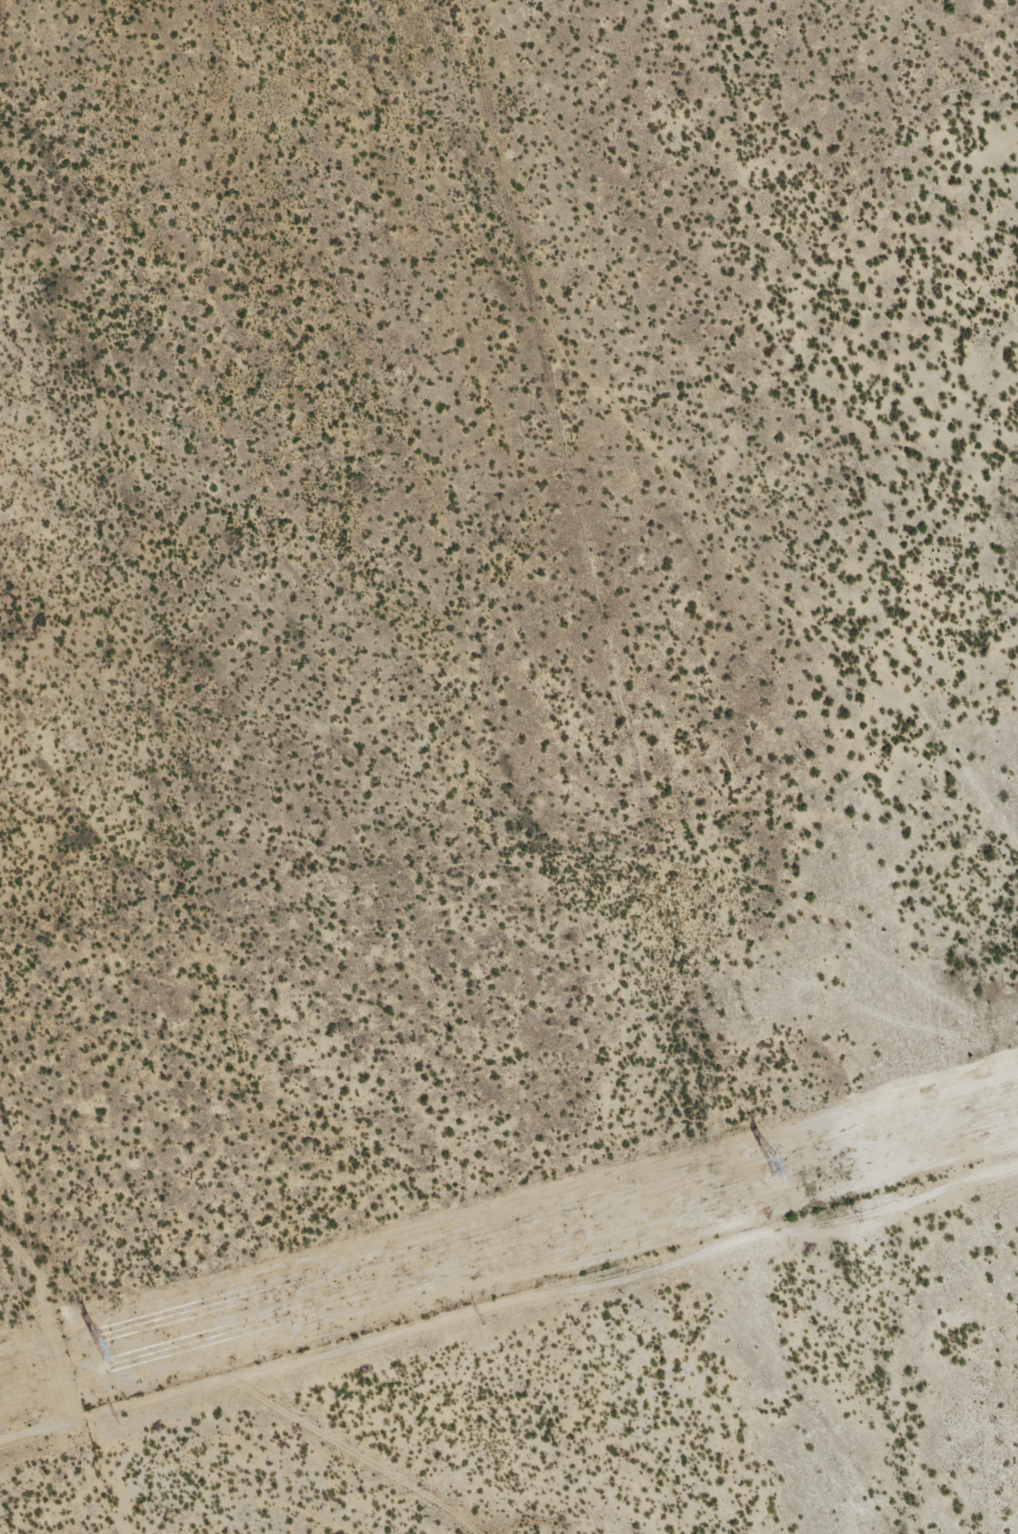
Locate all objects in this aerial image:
power tower: (771, 1165)
power tower: (857, 1216)
power tower: (481, 1320)
power tower: (101, 1350)
road: (238, 1372)
power tower: (117, 1421)
road: (556, 1514)

